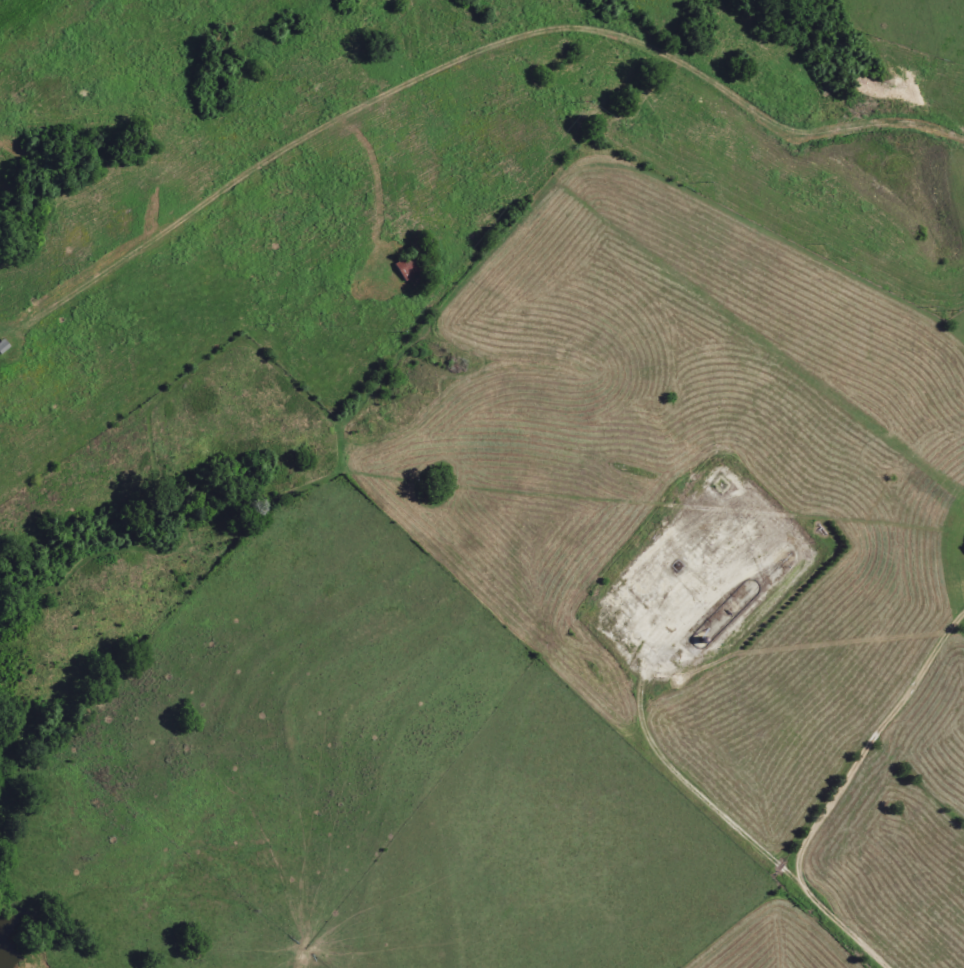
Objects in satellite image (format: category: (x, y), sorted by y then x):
road: (875, 743)
road: (749, 838)

